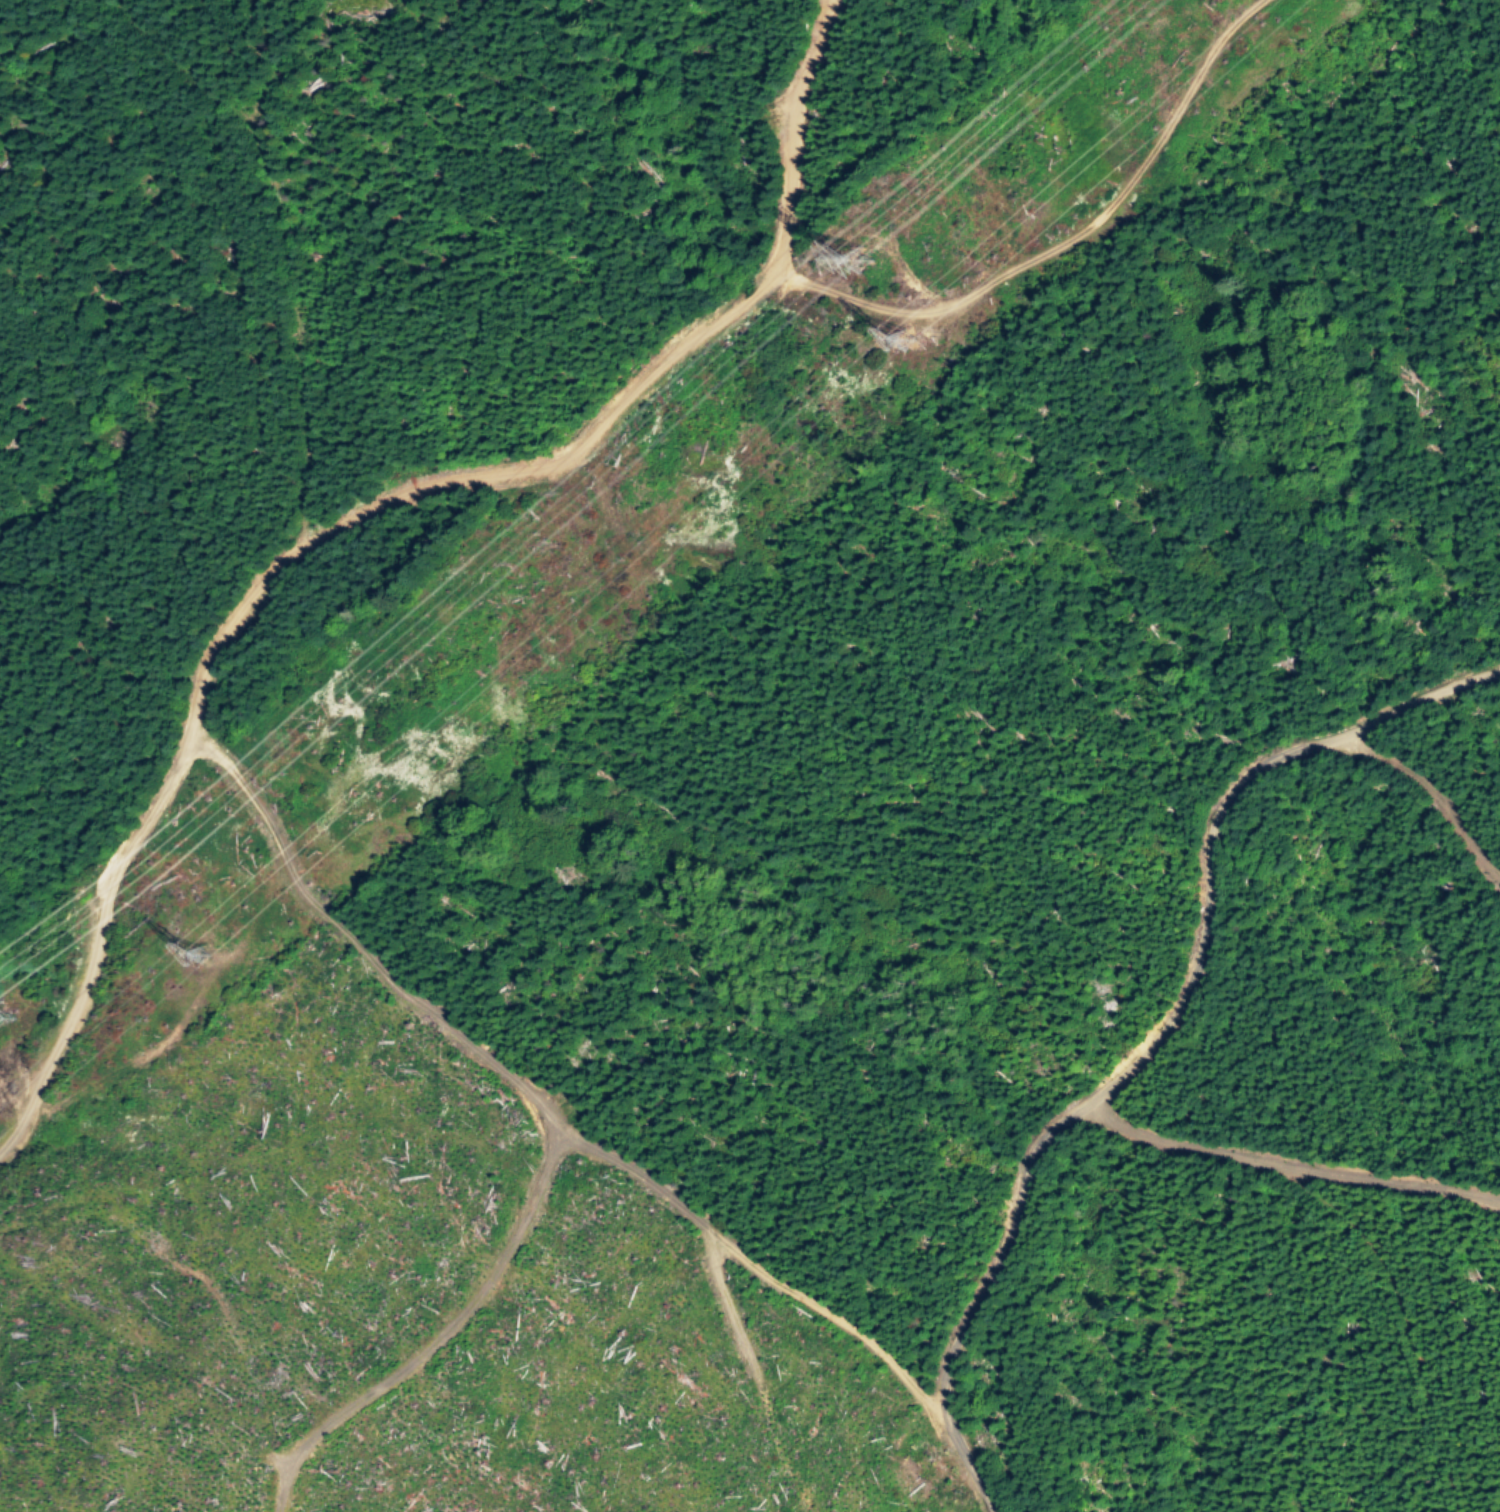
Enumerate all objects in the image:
road: (1063, 244)
power tower: (865, 263)
power tower: (912, 344)
road: (369, 508)
road: (1404, 709)
power tower: (203, 957)
road: (1171, 1032)
road: (528, 1108)

